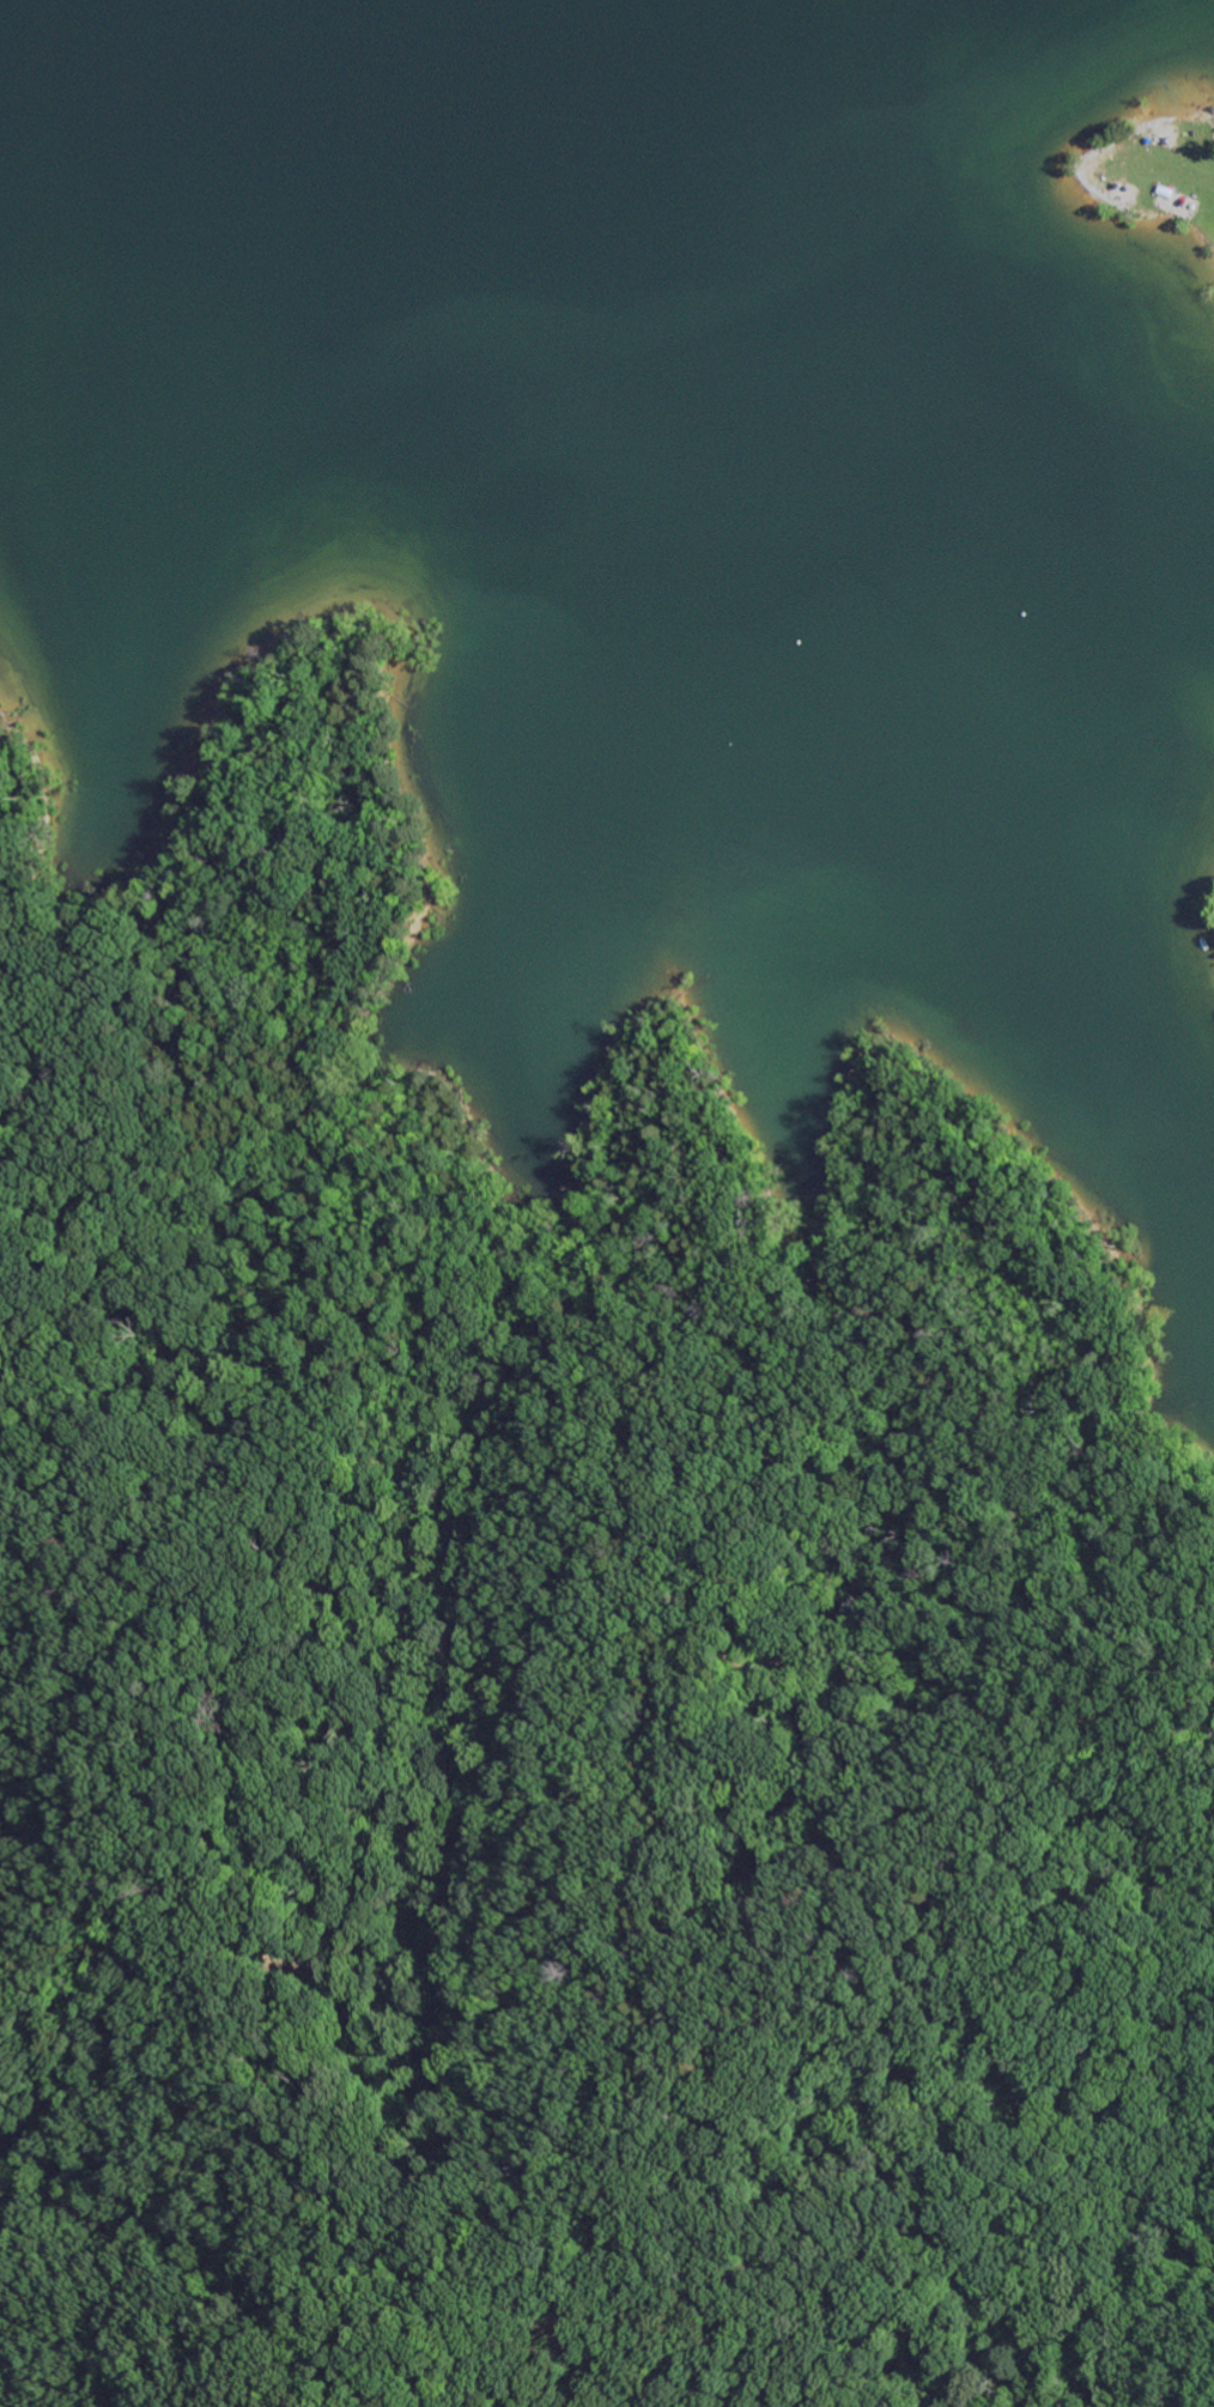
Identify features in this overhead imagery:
road: (159, 1902)

